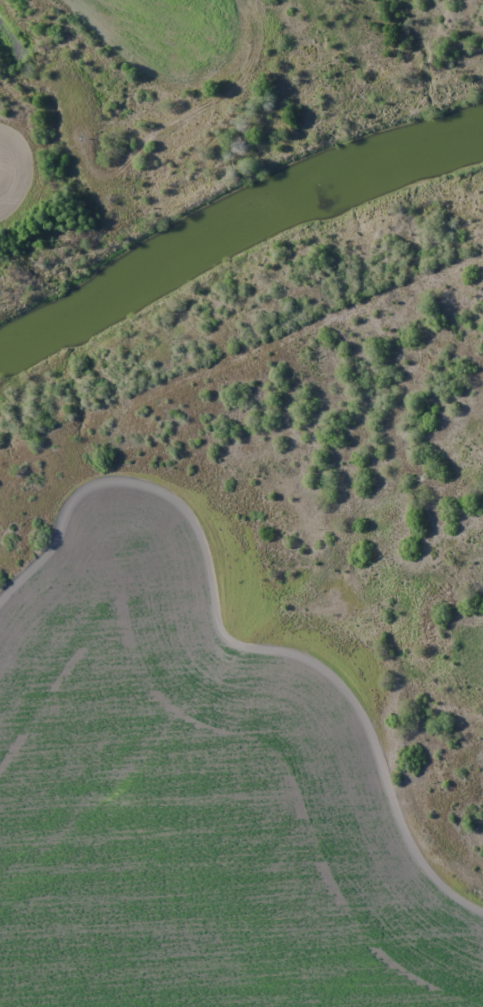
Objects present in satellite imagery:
road: (198, 108)

